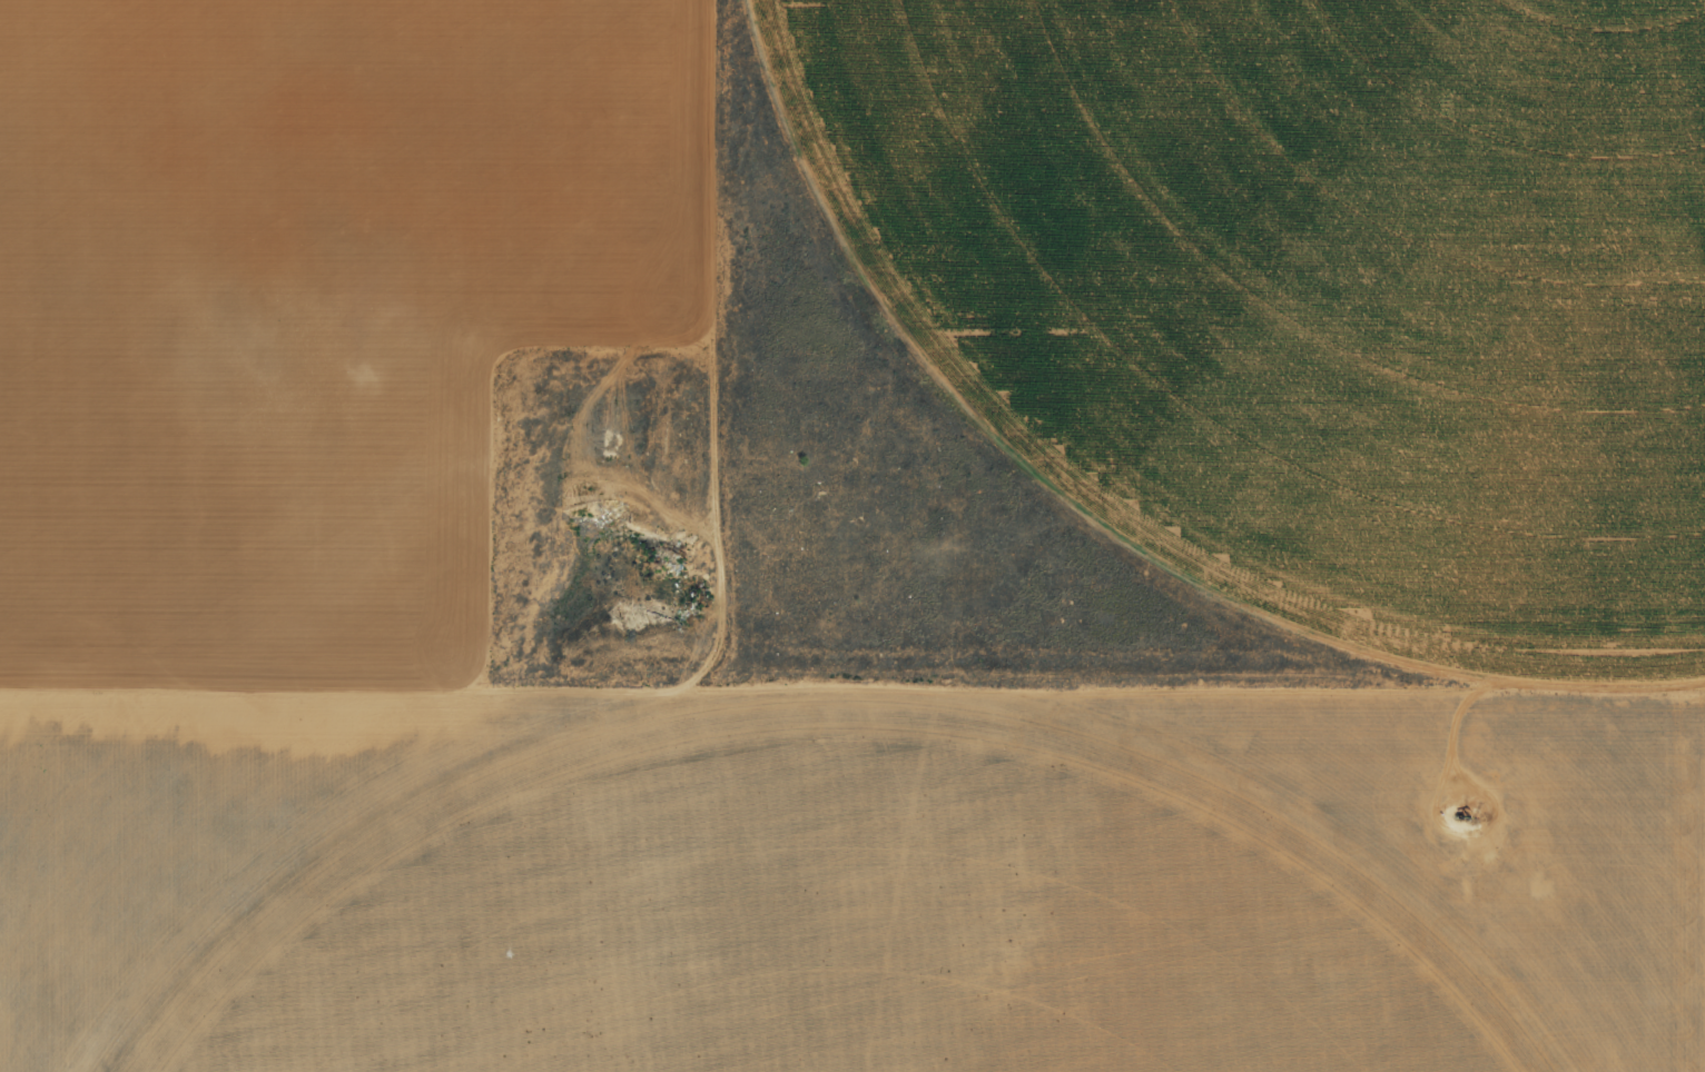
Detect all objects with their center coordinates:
road: (852, 633)

